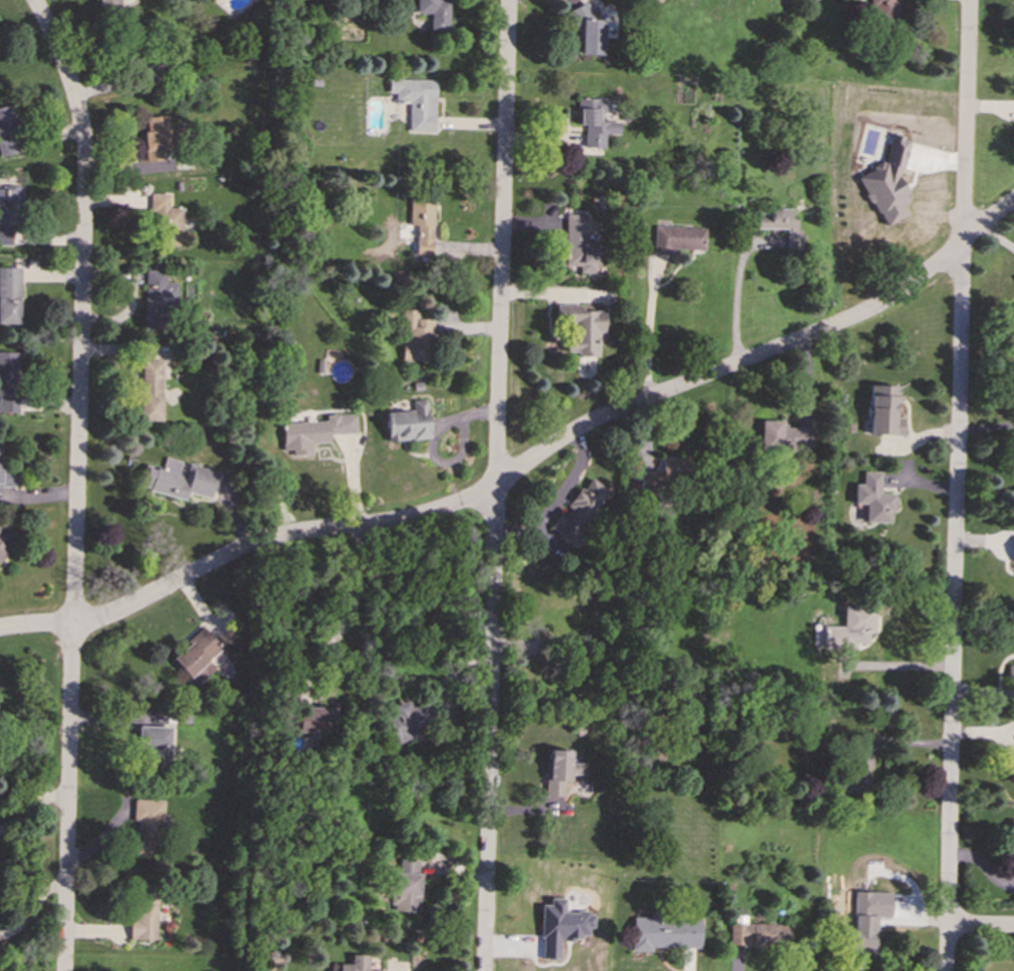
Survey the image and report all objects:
building: (214, 0)
building: (110, 3)
building: (884, 11)
building: (434, 13)
building: (589, 31)
building: (417, 102)
building: (595, 121)
building: (7, 132)
building: (156, 137)
building: (888, 182)
building: (8, 210)
building: (166, 221)
building: (422, 223)
building: (786, 227)
building: (677, 239)
building: (579, 244)
building: (10, 295)
building: (157, 298)
road: (739, 302)
road: (650, 333)
building: (415, 337)
building: (8, 382)
building: (151, 390)
building: (883, 411)
building: (409, 423)
building: (315, 432)
building: (786, 436)
road: (452, 464)
road: (525, 464)
building: (6, 474)
building: (662, 474)
building: (178, 479)
road: (76, 480)
road: (570, 484)
road: (494, 485)
road: (956, 485)
building: (874, 498)
building: (579, 511)
building: (7, 538)
building: (1012, 549)
road: (351, 617)
building: (851, 627)
building: (196, 655)
building: (1011, 675)
building: (317, 720)
building: (408, 721)
building: (153, 743)
building: (860, 764)
building: (559, 770)
building: (146, 824)
building: (1013, 839)
building: (405, 885)
building: (143, 910)
road: (981, 926)
building: (664, 932)
building: (759, 934)
building: (863, 934)
building: (353, 964)
road: (393, 969)

